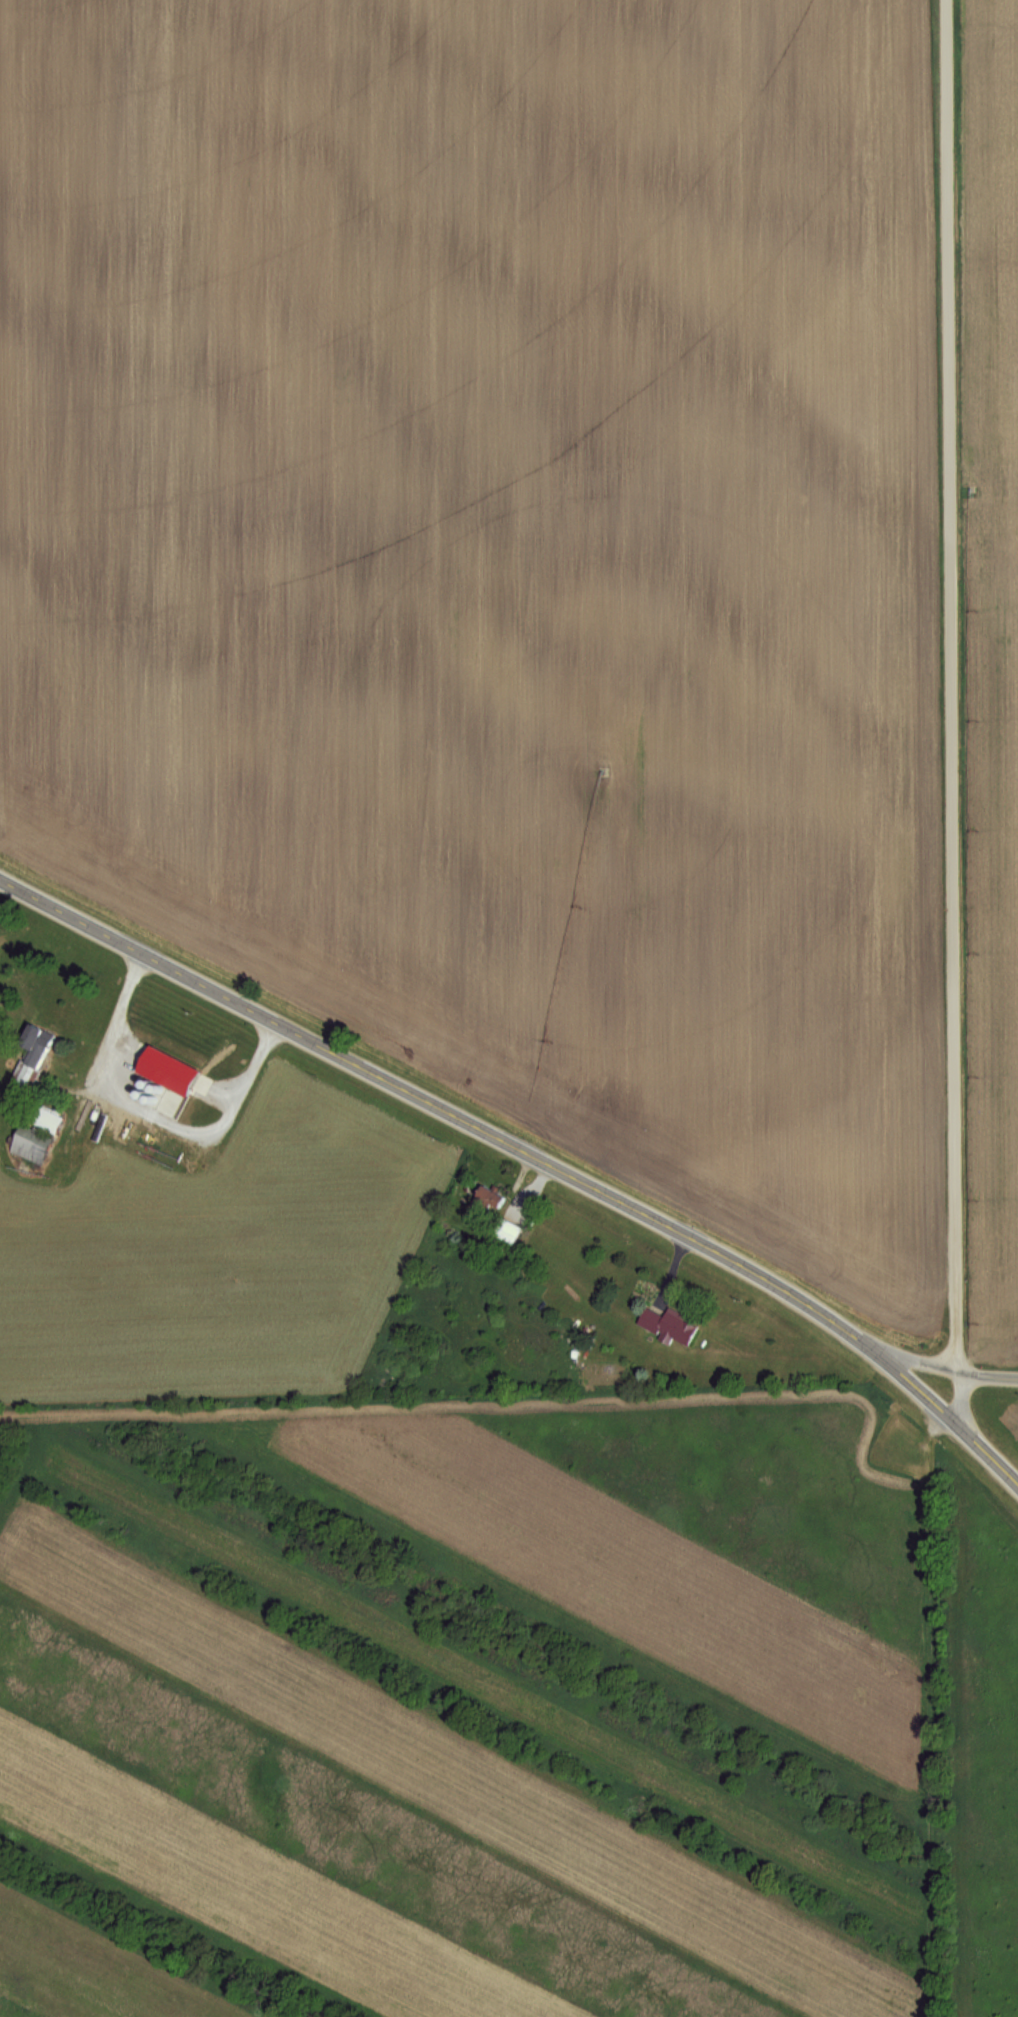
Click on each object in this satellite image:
crop: (494, 548)
crop: (1003, 686)
road: (956, 715)
building: (34, 1056)
building: (136, 1096)
road: (149, 1112)
building: (51, 1119)
building: (34, 1143)
road: (529, 1156)
building: (495, 1195)
building: (509, 1231)
building: (671, 1324)
road: (941, 1367)
crop: (1005, 1427)

